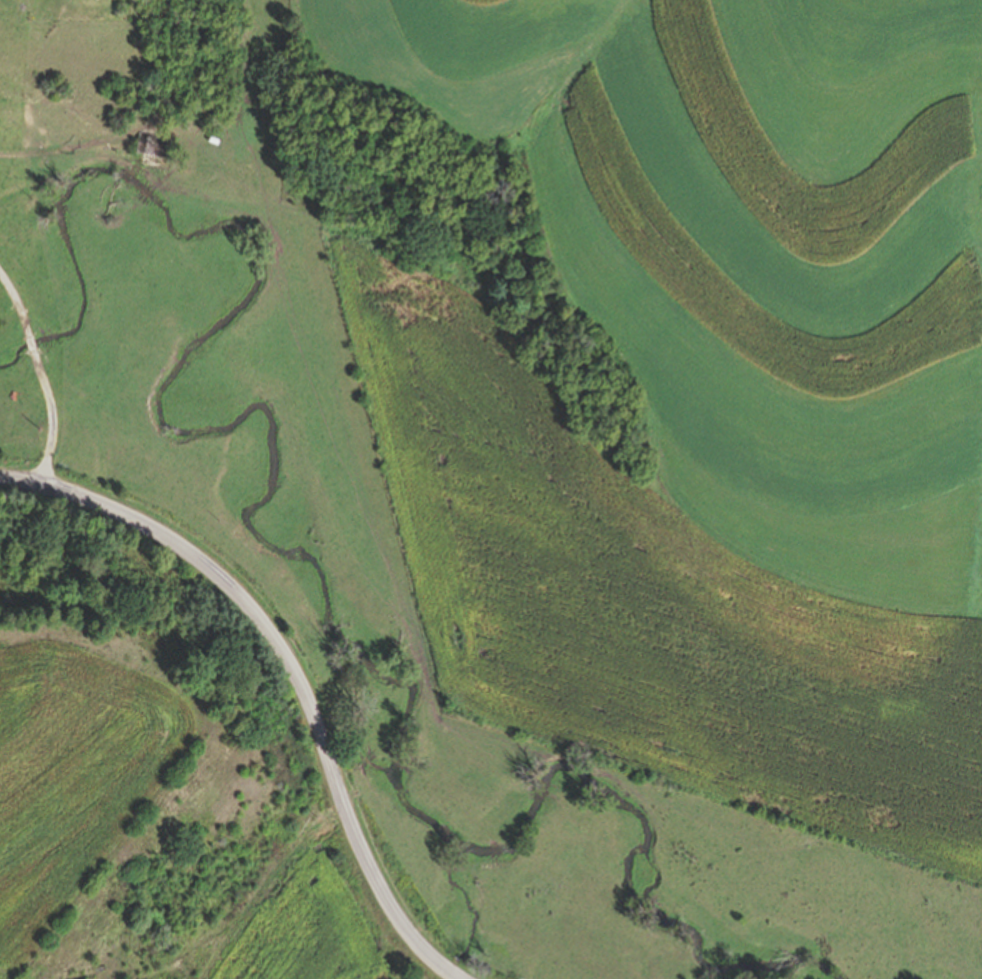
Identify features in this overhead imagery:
building: (154, 146)
road: (41, 370)
road: (286, 672)

